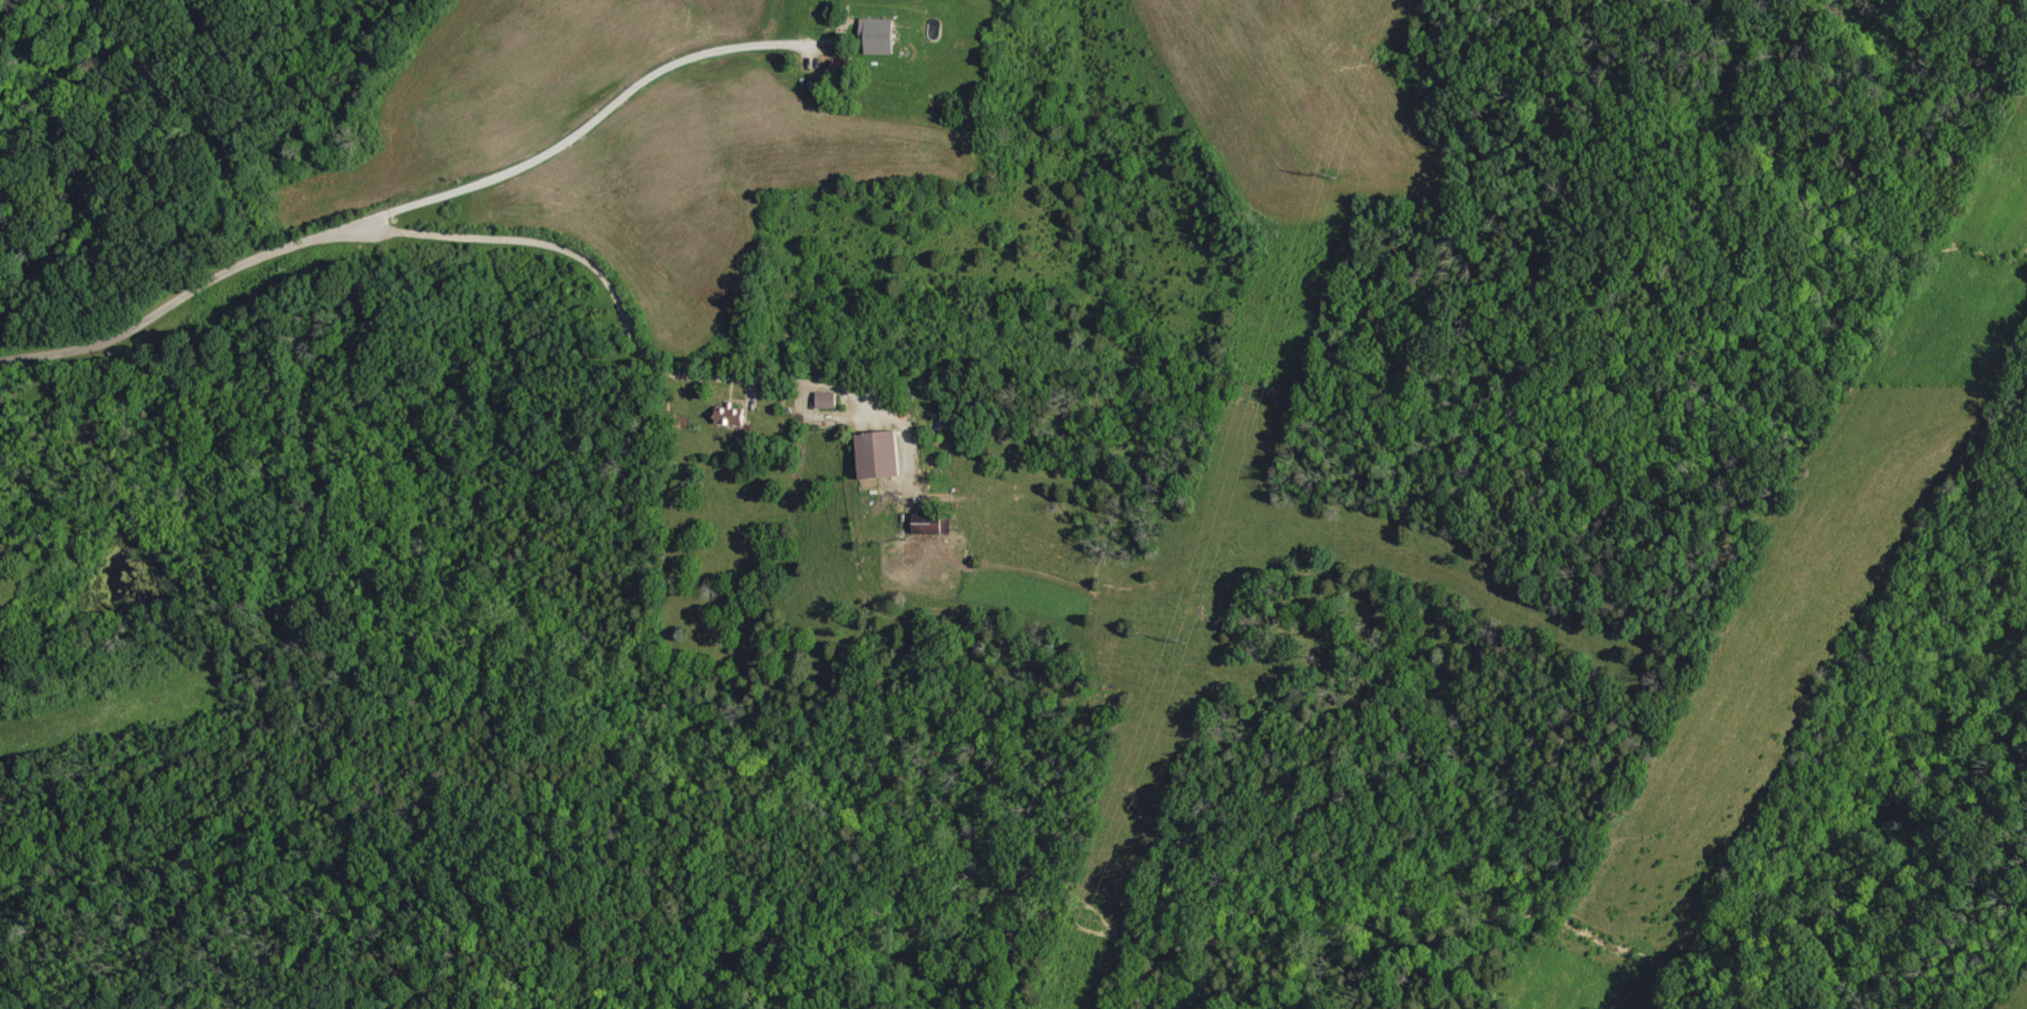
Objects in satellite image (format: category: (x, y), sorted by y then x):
building: (879, 36)
road: (428, 219)
road: (606, 286)
building: (828, 400)
building: (731, 415)
building: (879, 455)
building: (929, 523)

